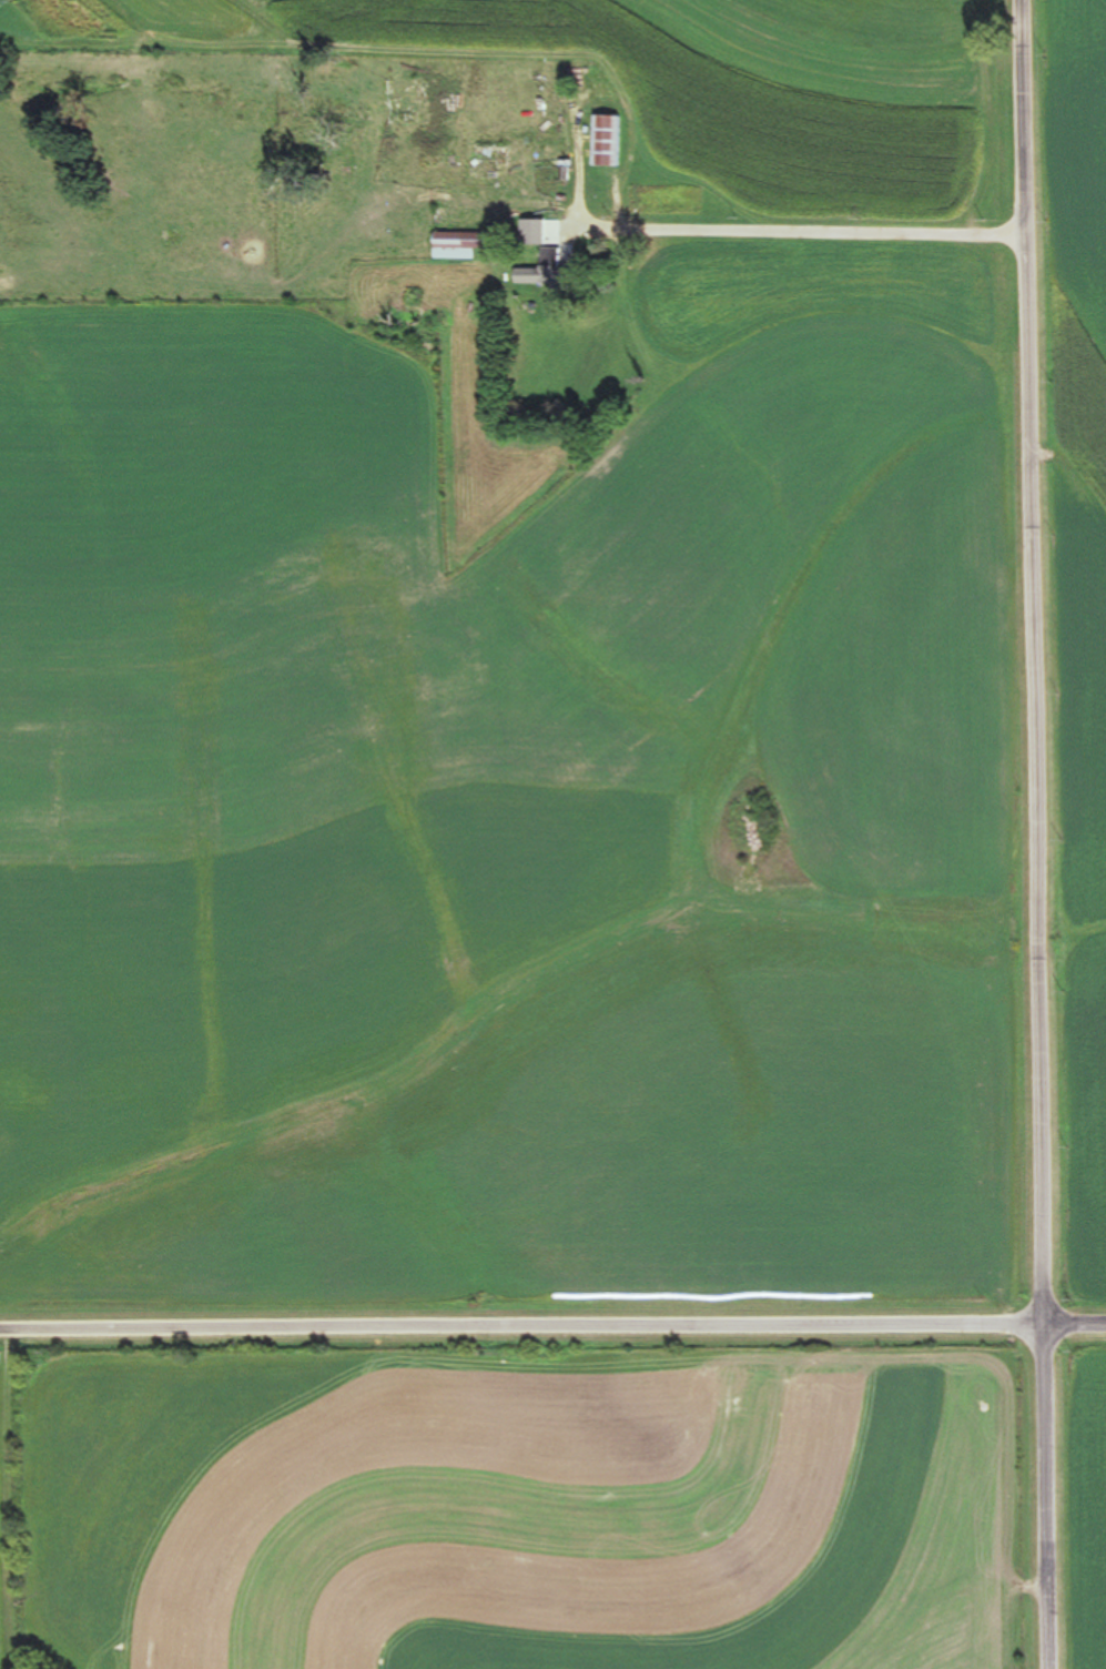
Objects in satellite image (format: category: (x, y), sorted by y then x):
power tower: (20, 3)
building: (609, 141)
building: (490, 174)
road: (846, 244)
building: (458, 246)
road: (1004, 834)
road: (552, 1308)

